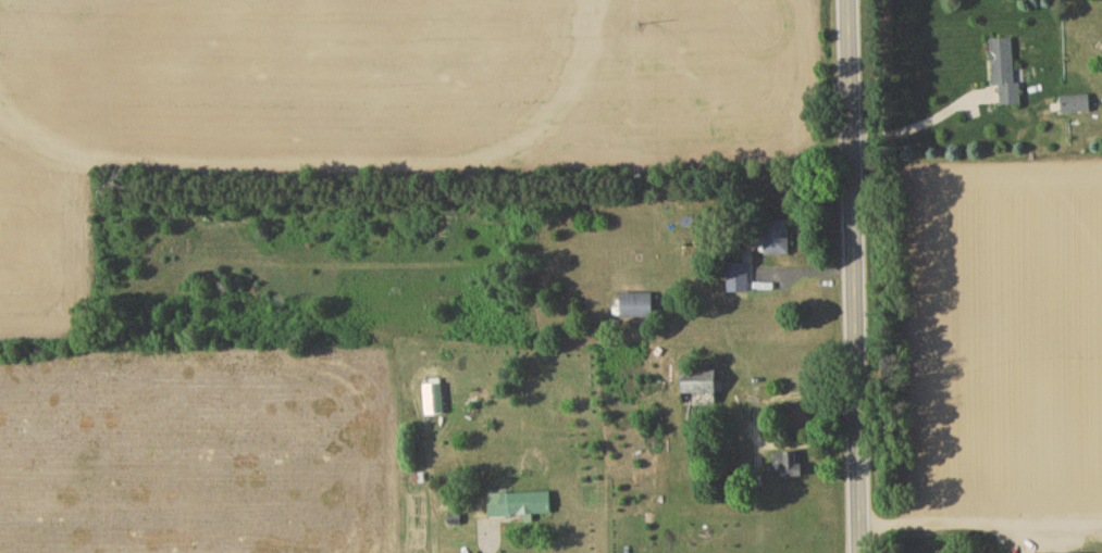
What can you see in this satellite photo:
building: (1005, 73)
building: (1076, 106)
road: (918, 127)
building: (775, 239)
road: (853, 276)
building: (739, 278)
building: (637, 307)
building: (699, 391)
building: (787, 467)
building: (520, 506)
road: (963, 520)
road: (1086, 520)

